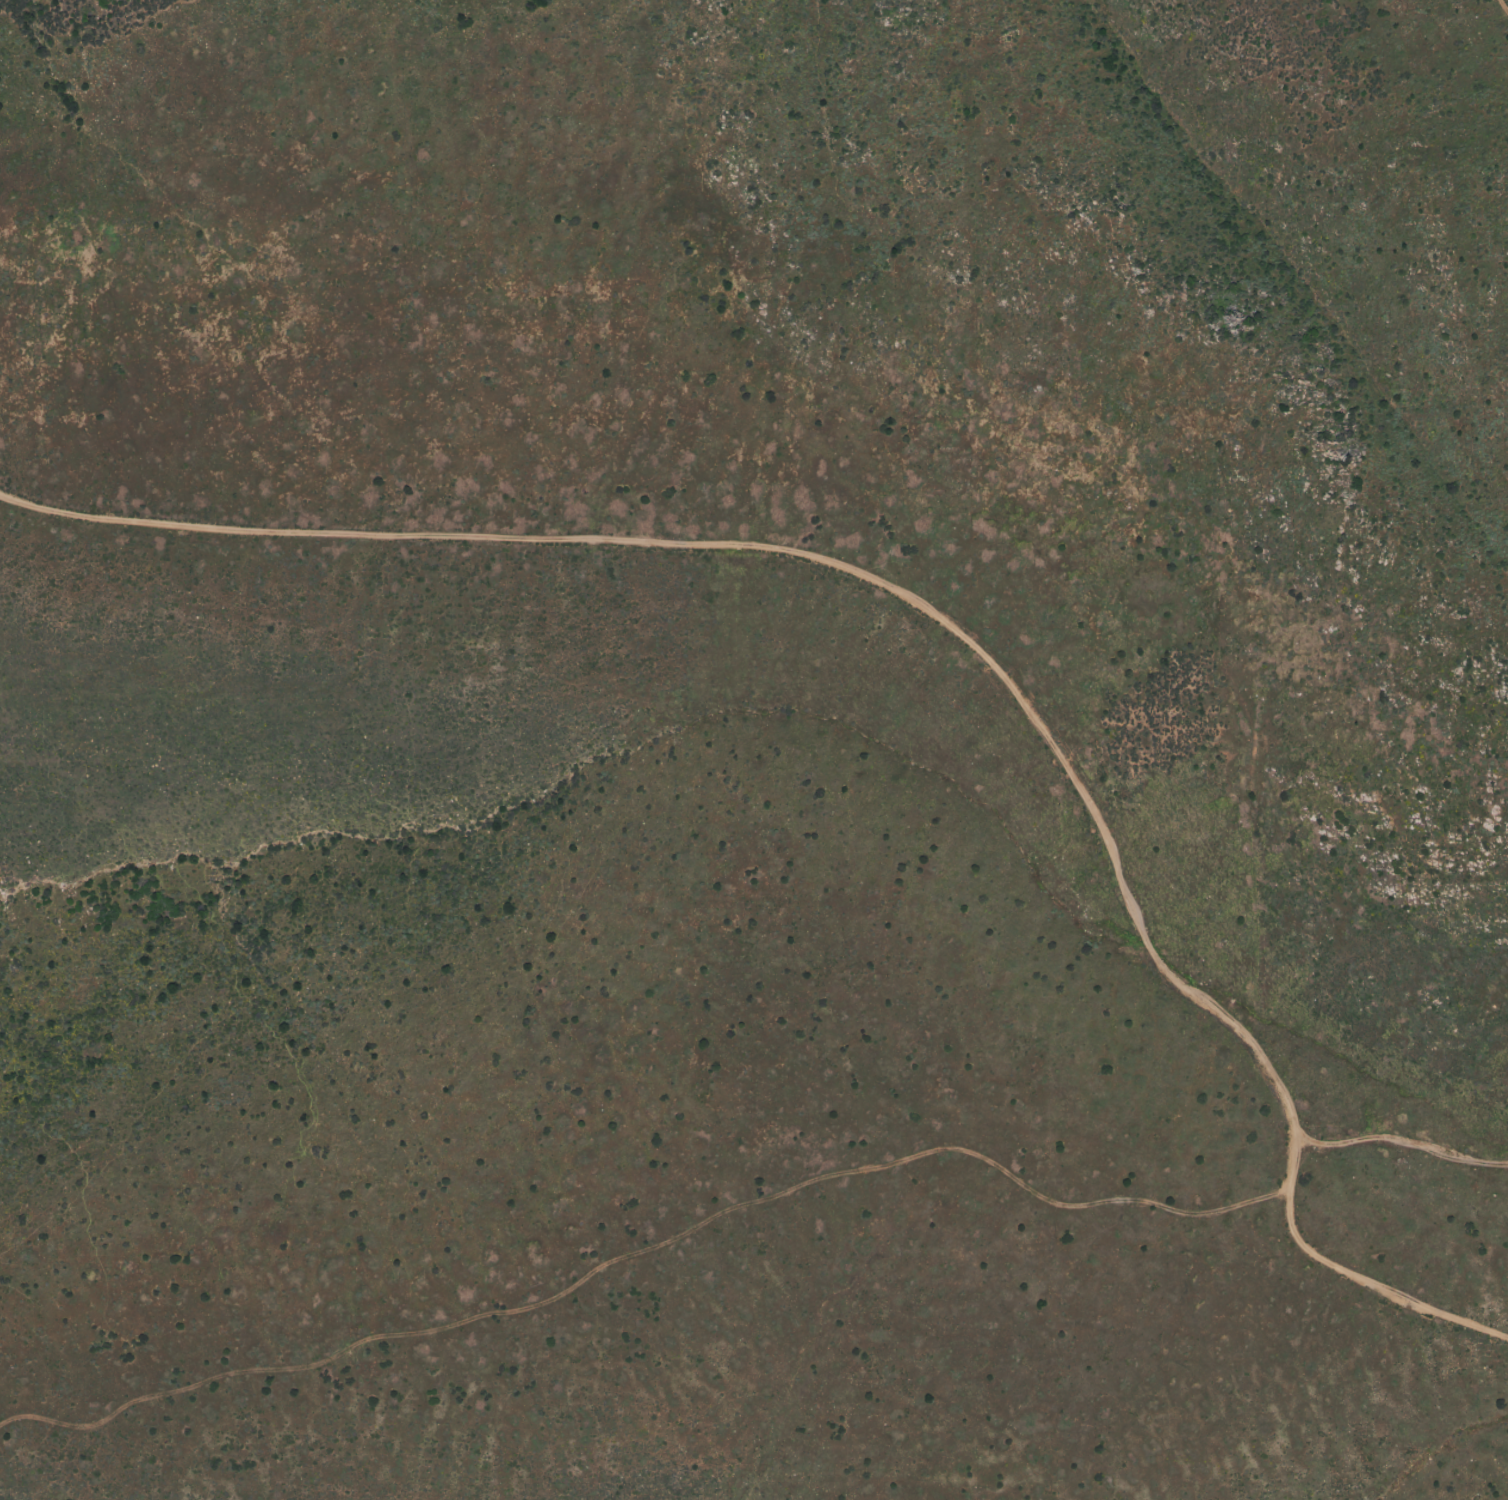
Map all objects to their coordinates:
road: (1501, 11)
road: (947, 629)
road: (1398, 1143)
road: (644, 1249)

